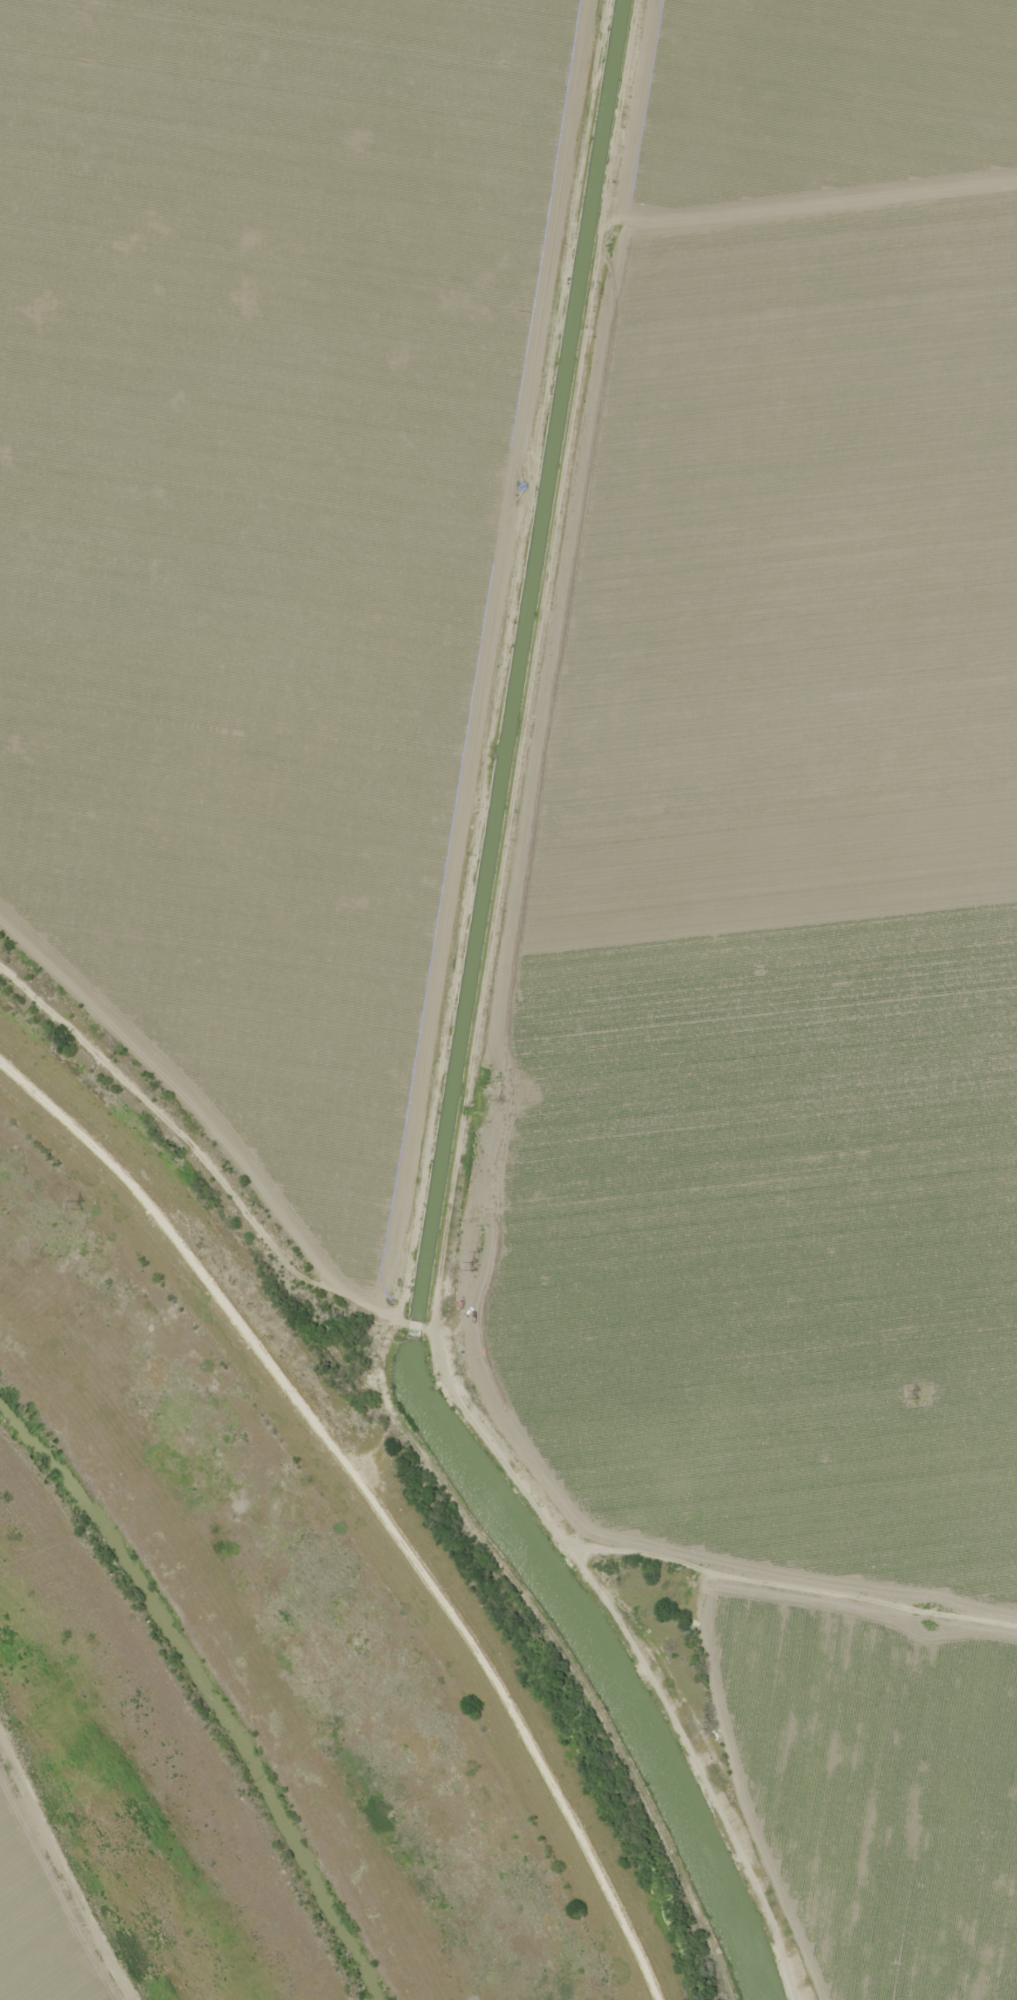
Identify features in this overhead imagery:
power tower: (83, 1205)
power tower: (476, 1266)
road: (465, 1309)
power tower: (919, 1395)
river: (203, 1690)
road: (752, 1771)

